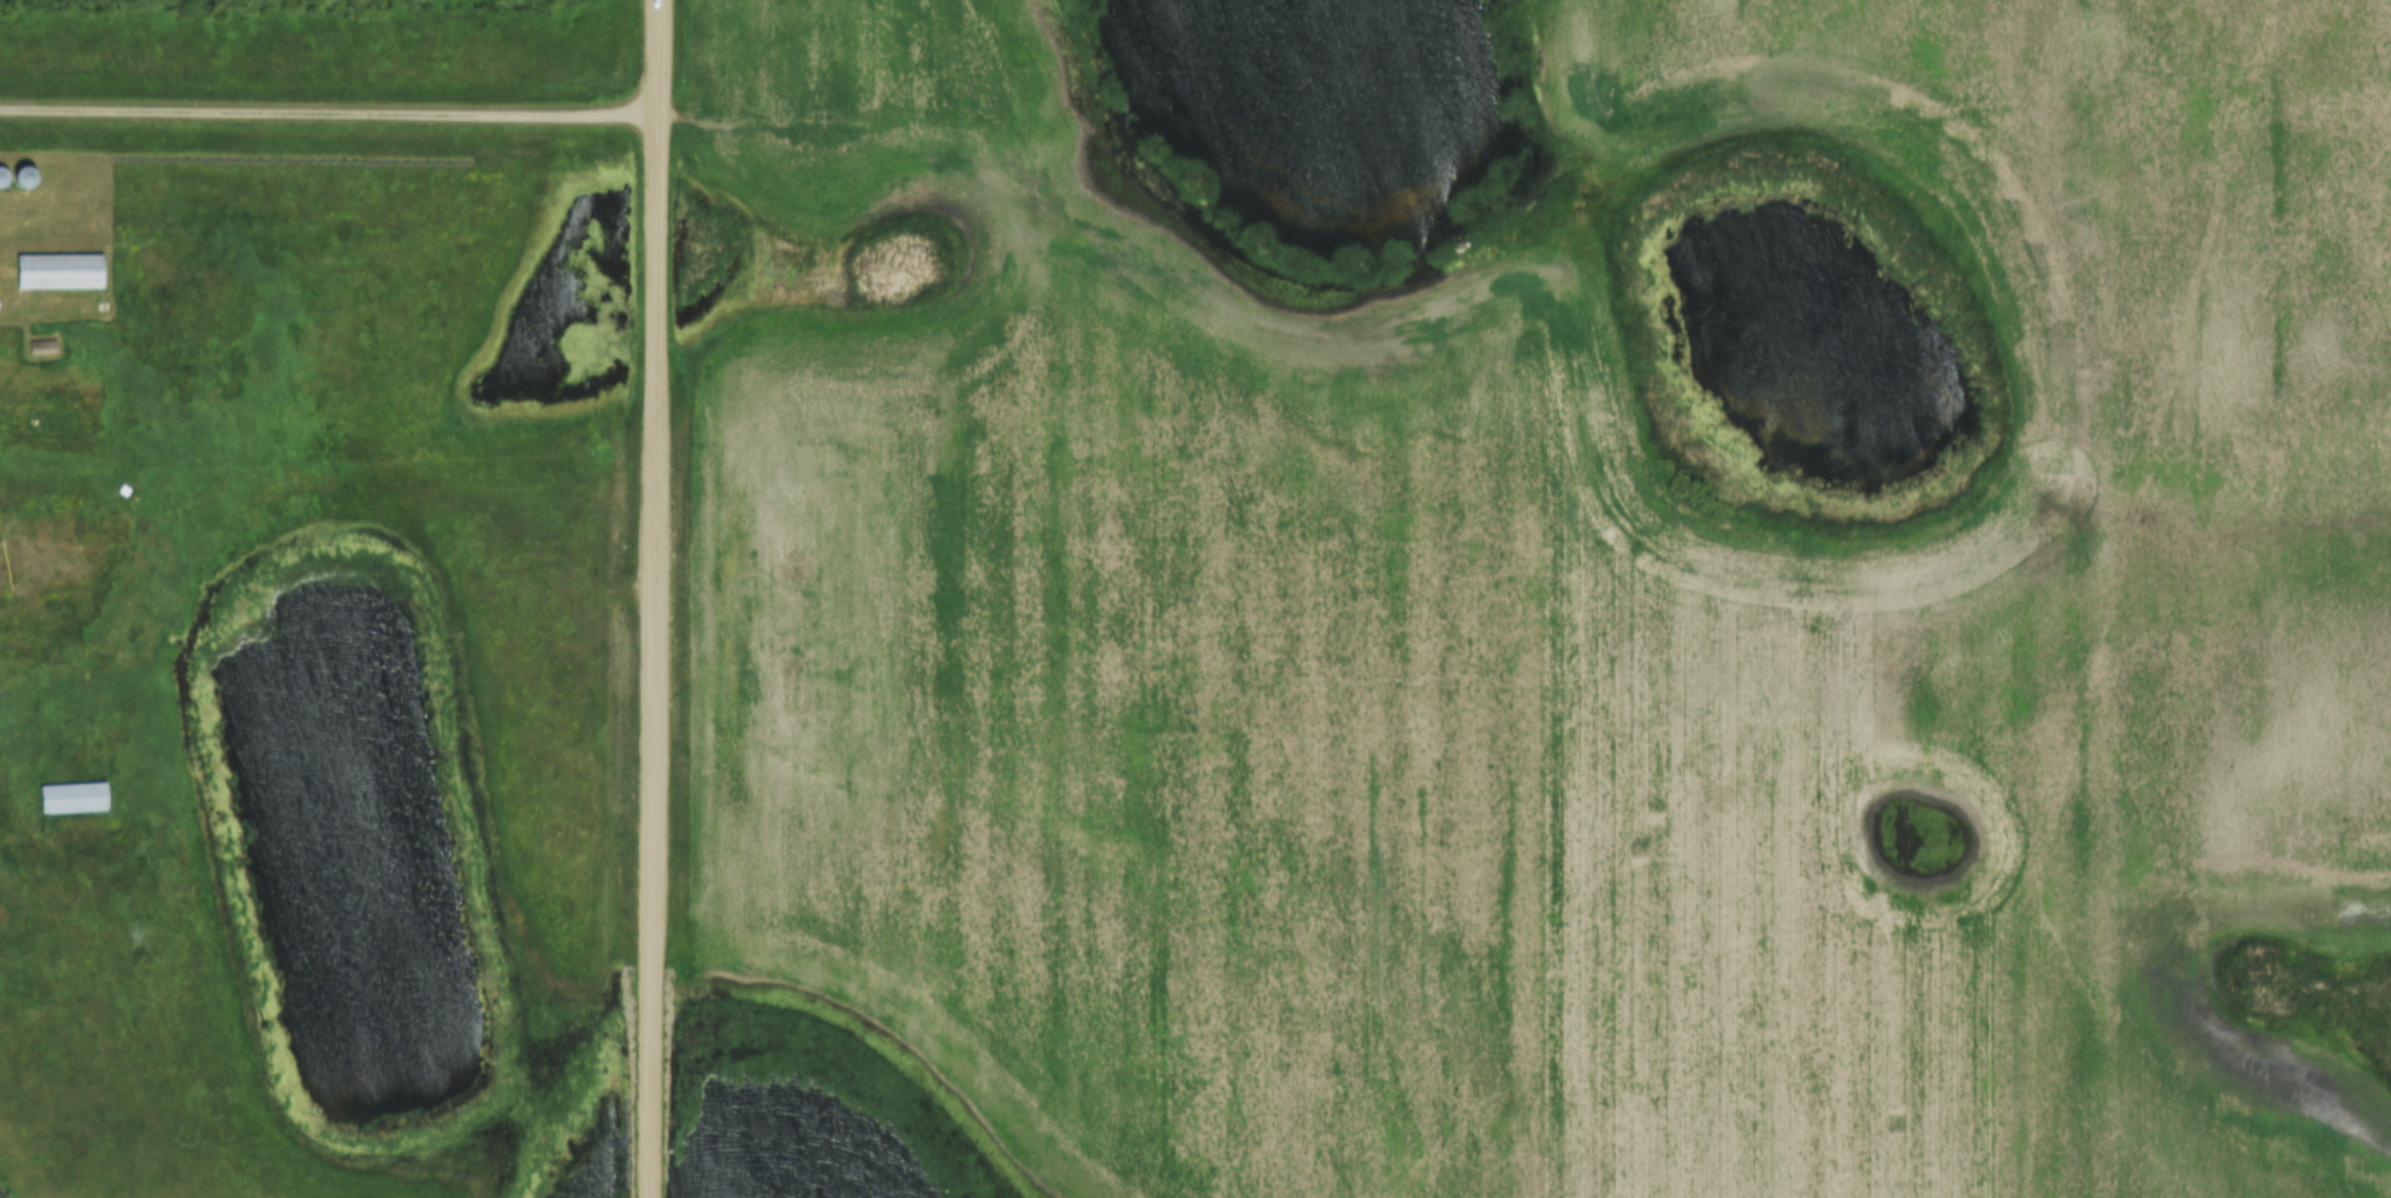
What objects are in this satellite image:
road: (328, 115)
building: (58, 271)
building: (40, 347)
road: (652, 598)
building: (70, 797)

